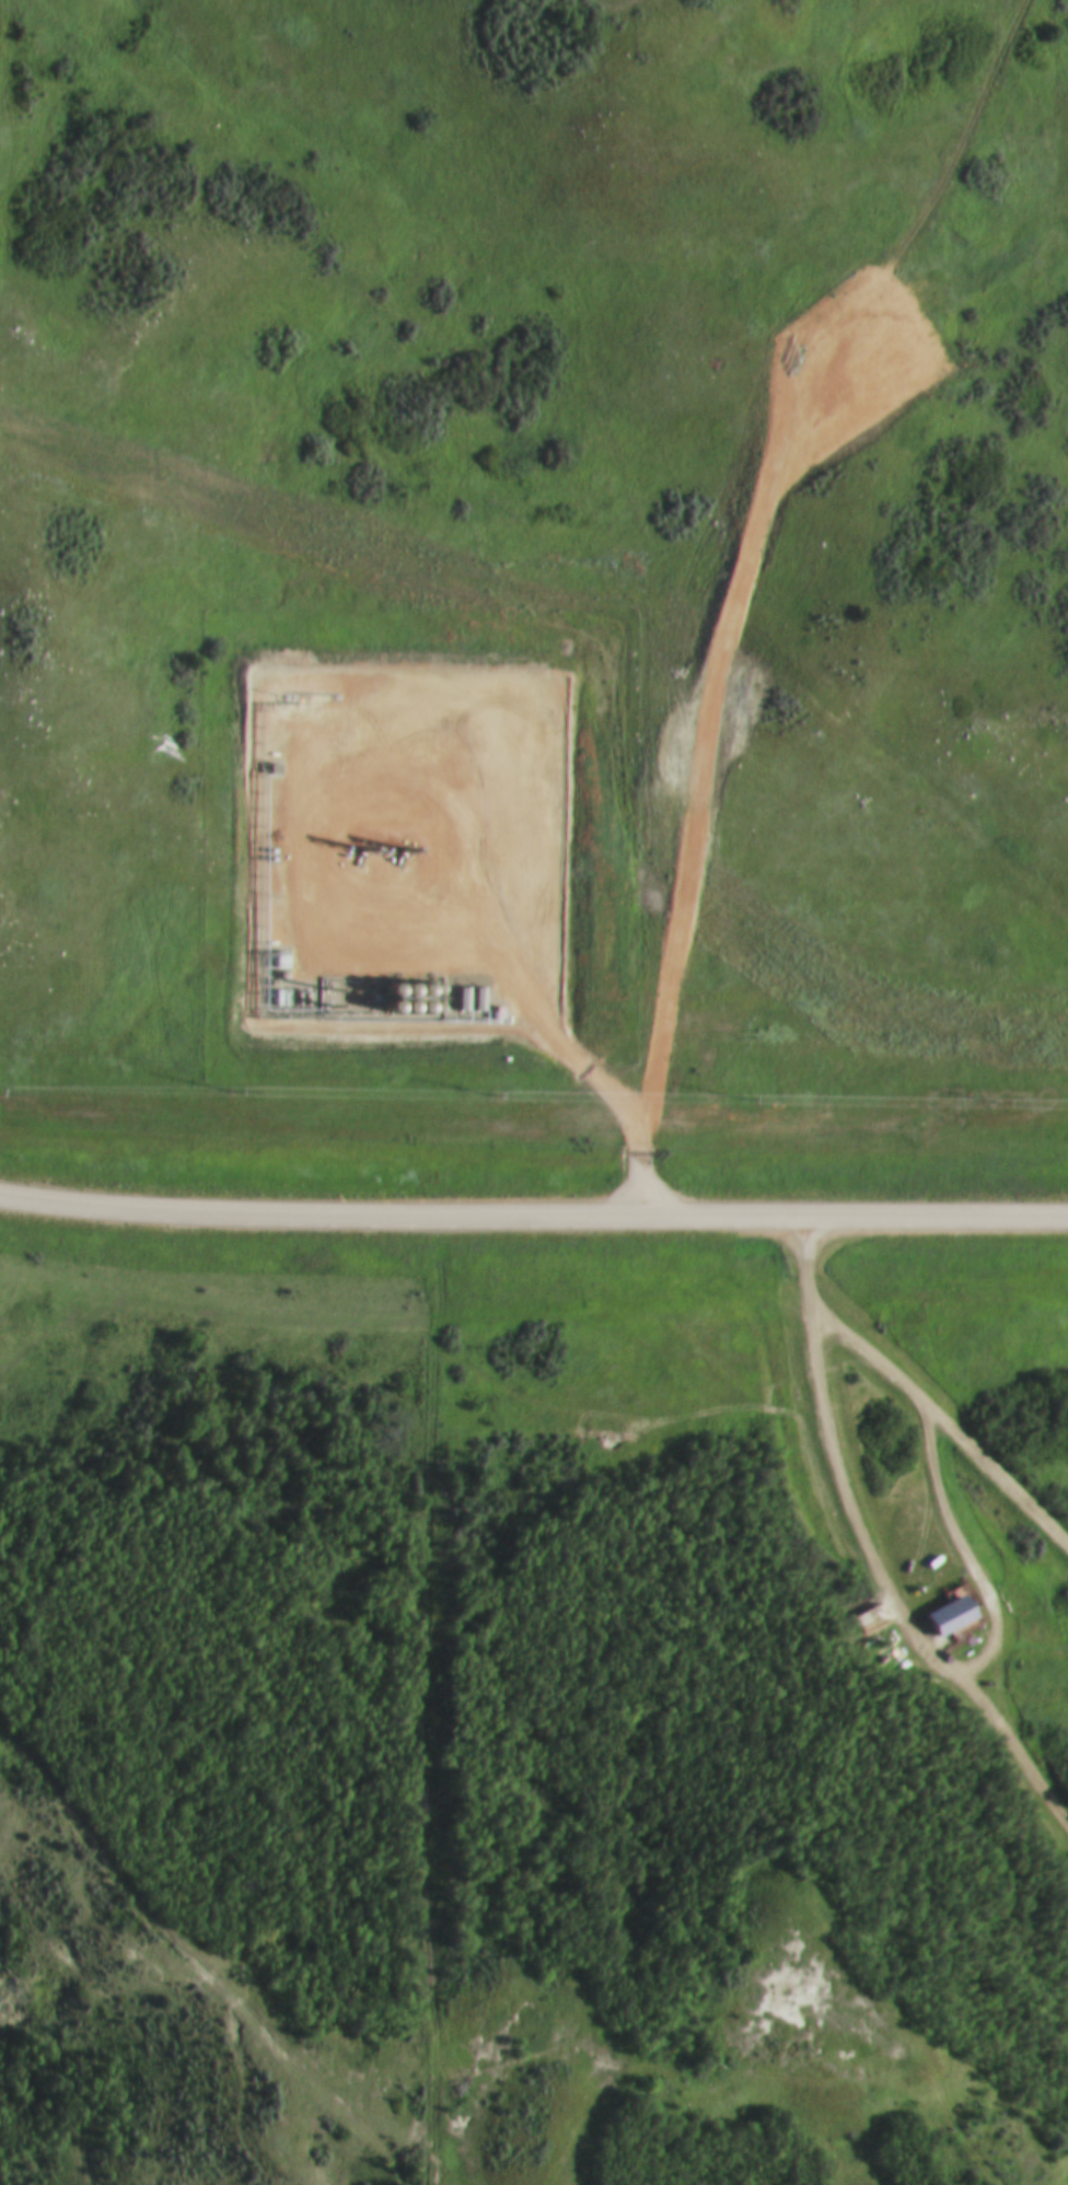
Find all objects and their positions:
road: (533, 1221)
road: (806, 1267)
road: (948, 1428)
road: (971, 1555)
road: (893, 1596)
building: (947, 1614)

